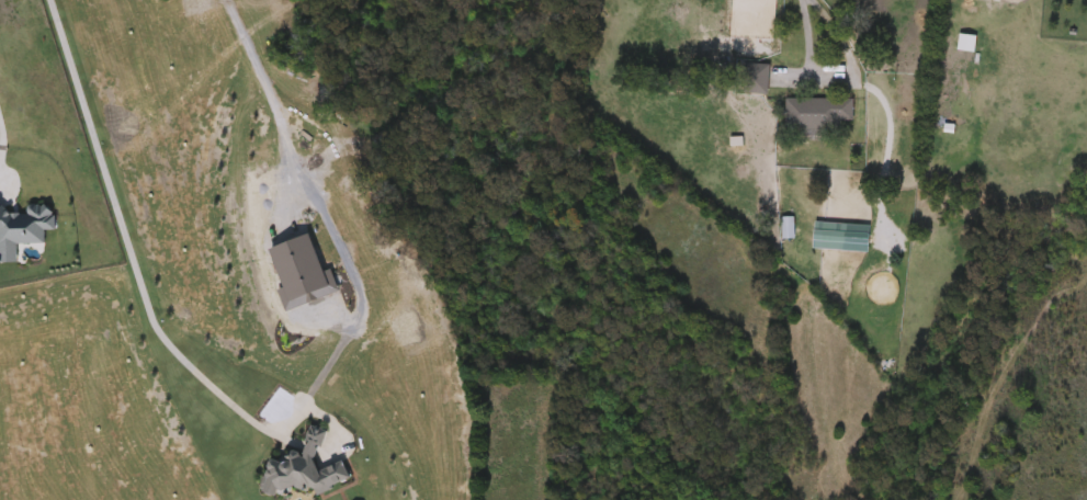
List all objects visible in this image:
building: (1015, 0)
road: (835, 76)
building: (757, 80)
building: (817, 114)
road: (1, 132)
building: (788, 229)
building: (828, 238)
road: (271, 423)

